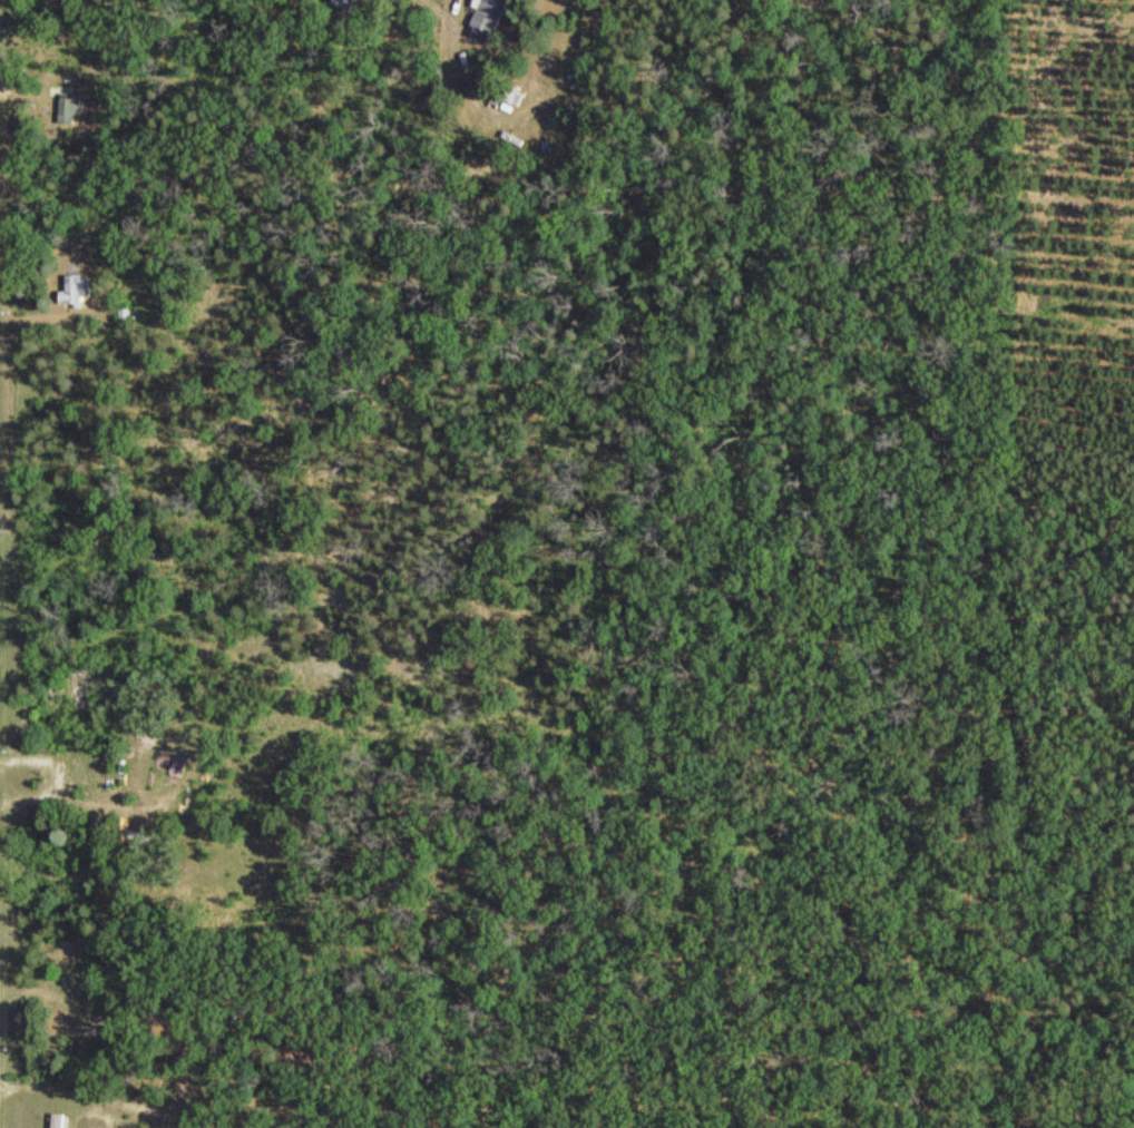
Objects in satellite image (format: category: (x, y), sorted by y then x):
building: (488, 18)
building: (82, 286)
building: (59, 1120)

